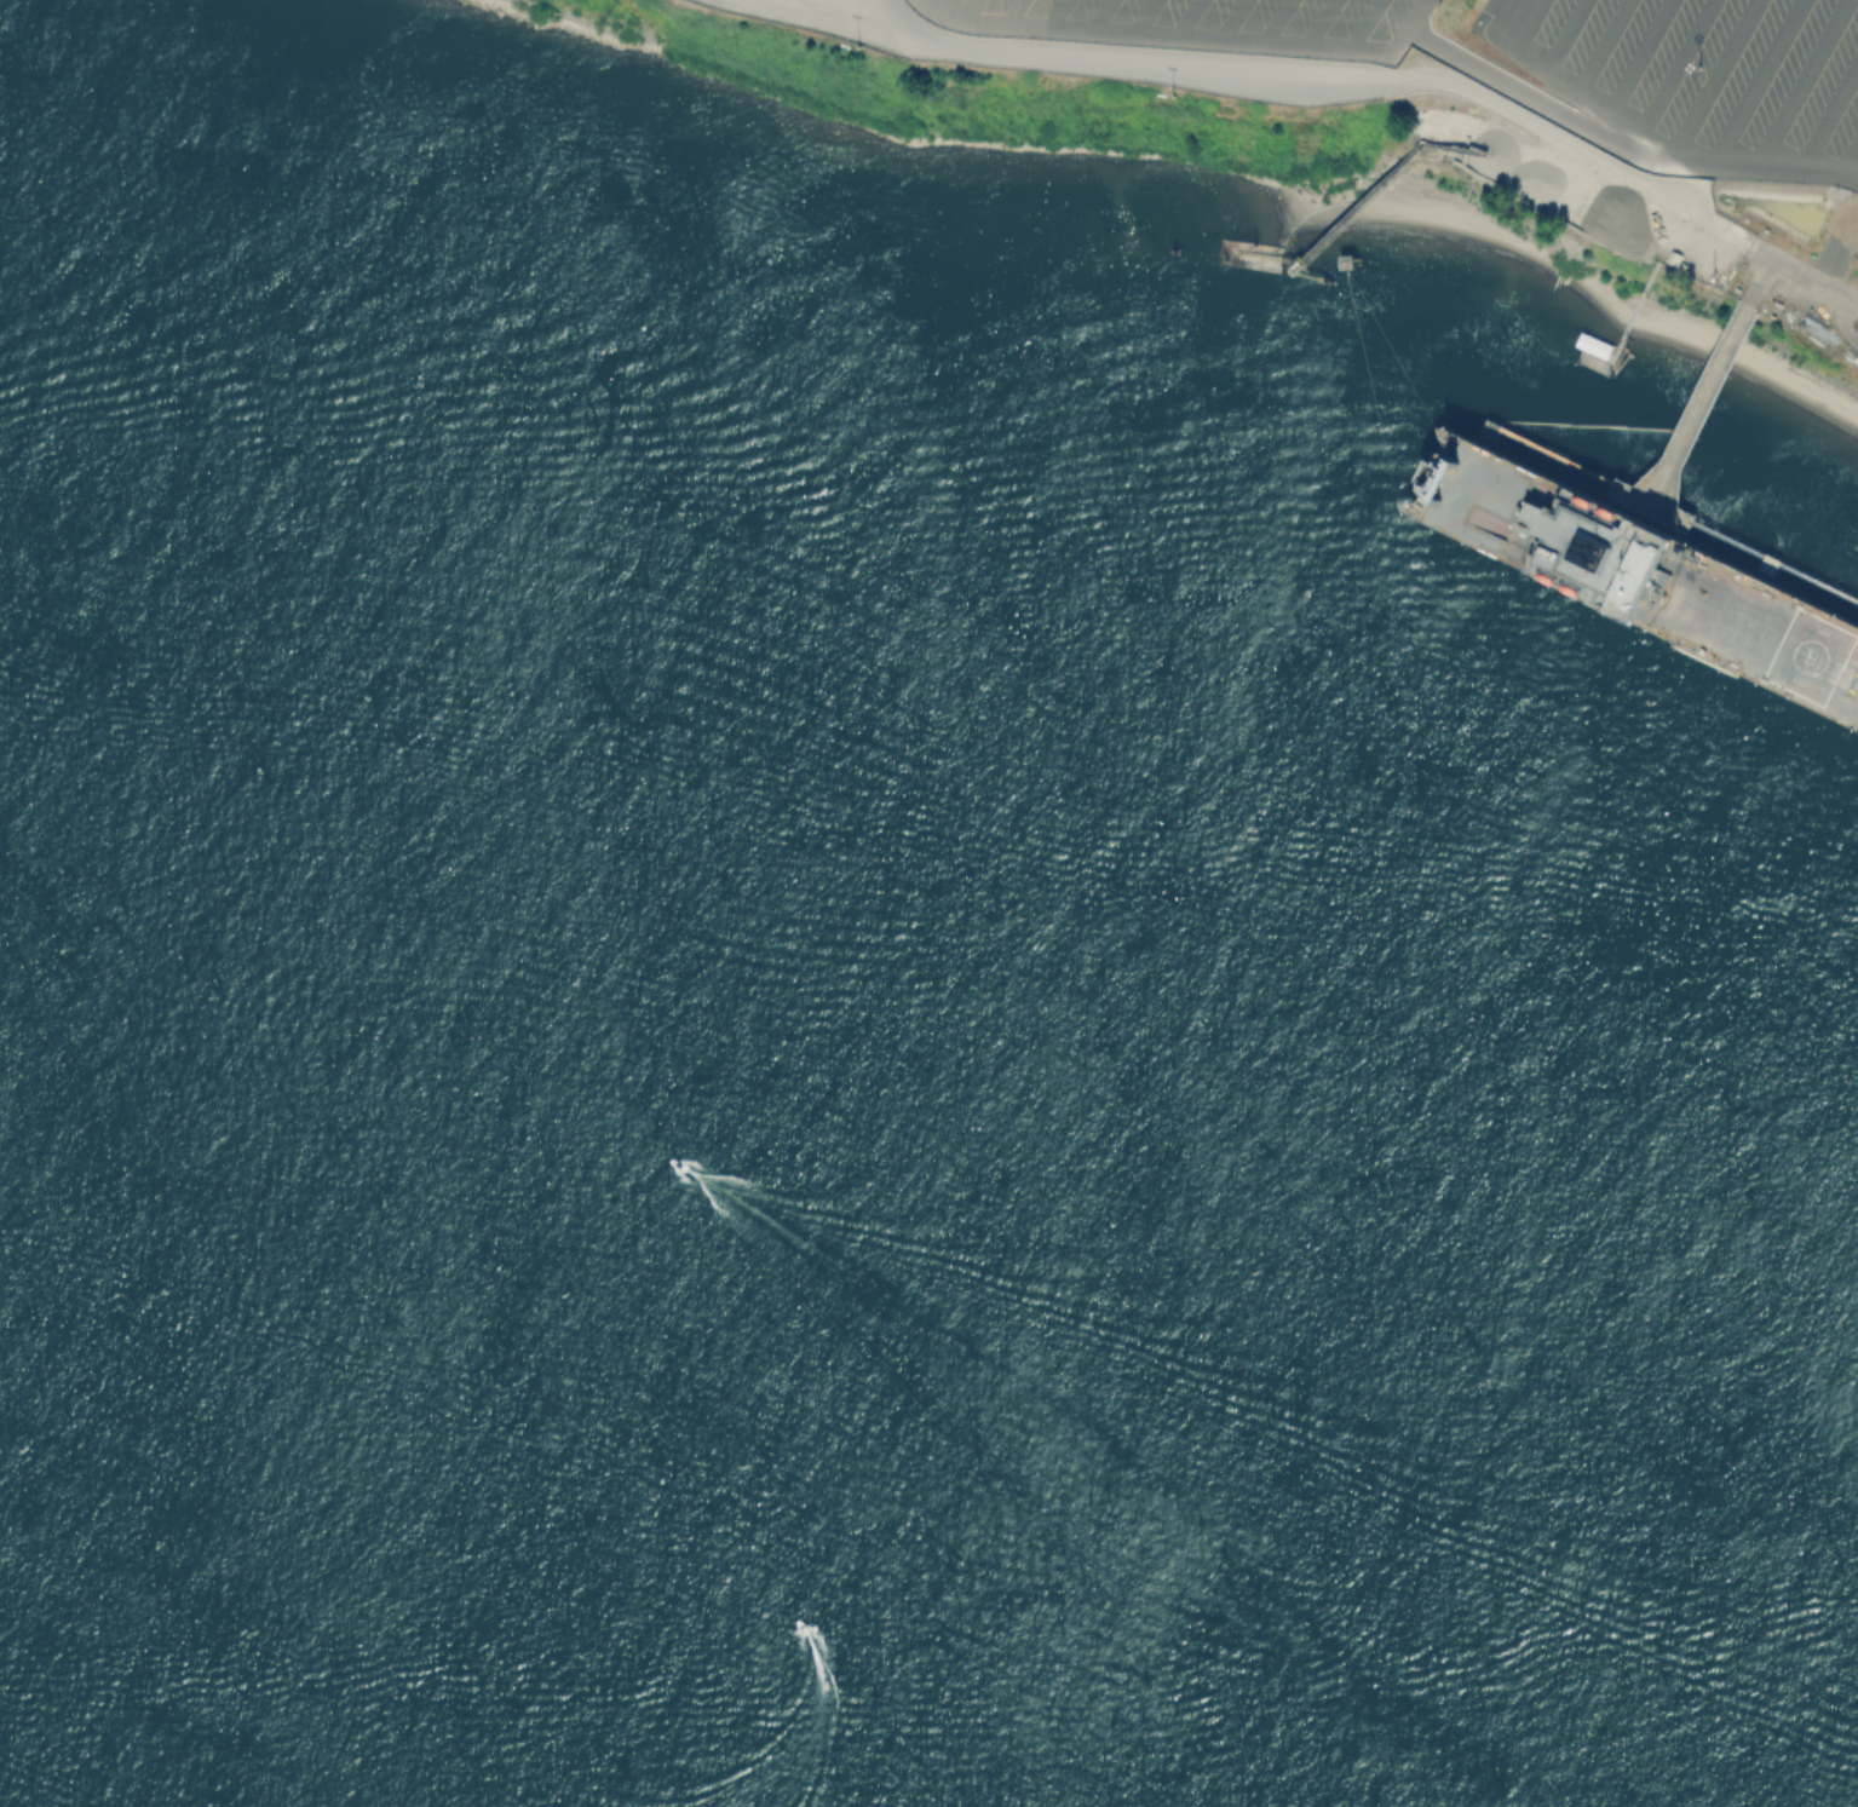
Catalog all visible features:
road: (1415, 13)
road: (1173, 34)
road: (1334, 75)
road: (1528, 96)
road: (1649, 140)
pier: (1356, 206)
pier: (1269, 269)
road: (1807, 280)
pier: (1635, 307)
building: (1586, 358)
pier: (1702, 405)
pier: (1684, 437)
pier: (1669, 514)
river: (622, 1537)

